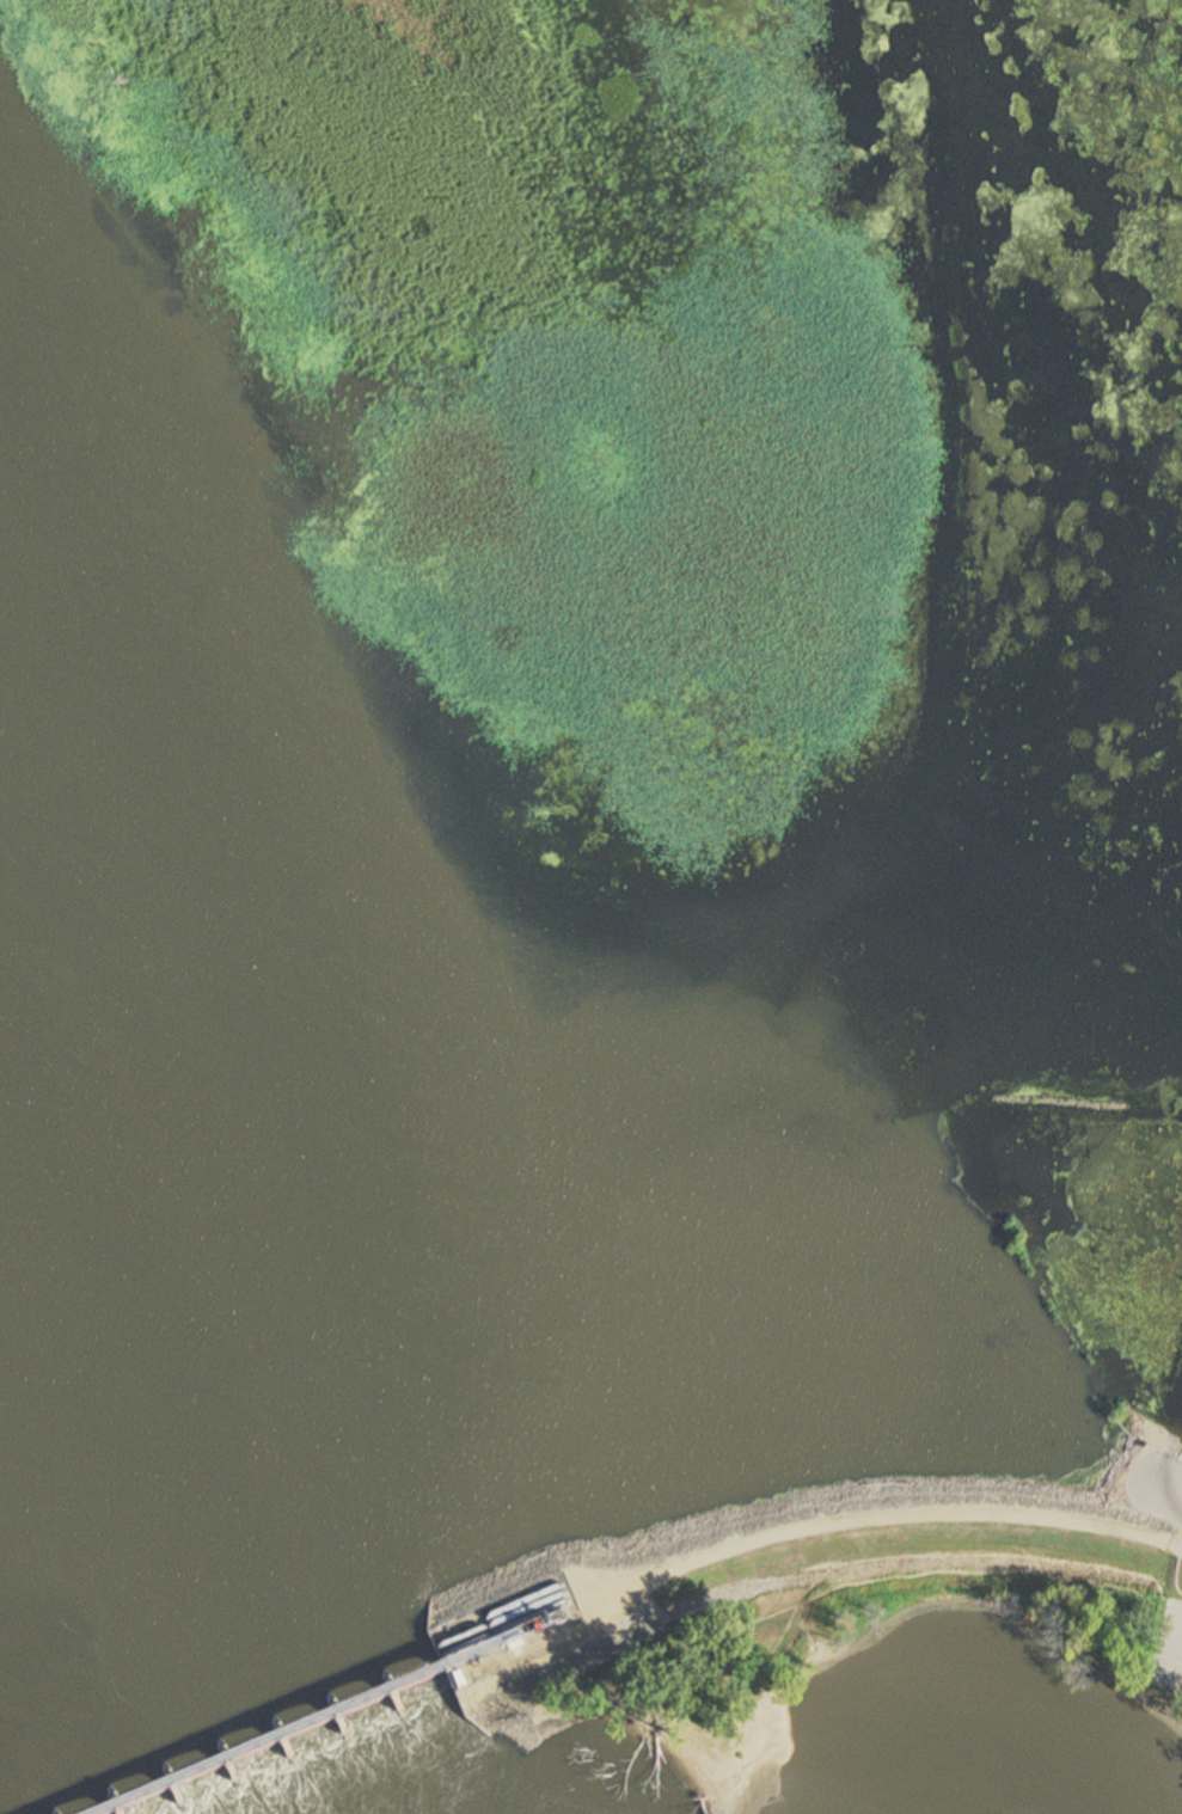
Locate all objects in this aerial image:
road: (1160, 1481)
road: (803, 1531)
road: (1176, 1548)
park: (841, 1597)
road: (1178, 1638)
dam: (306, 1728)
dam: (53, 1812)

